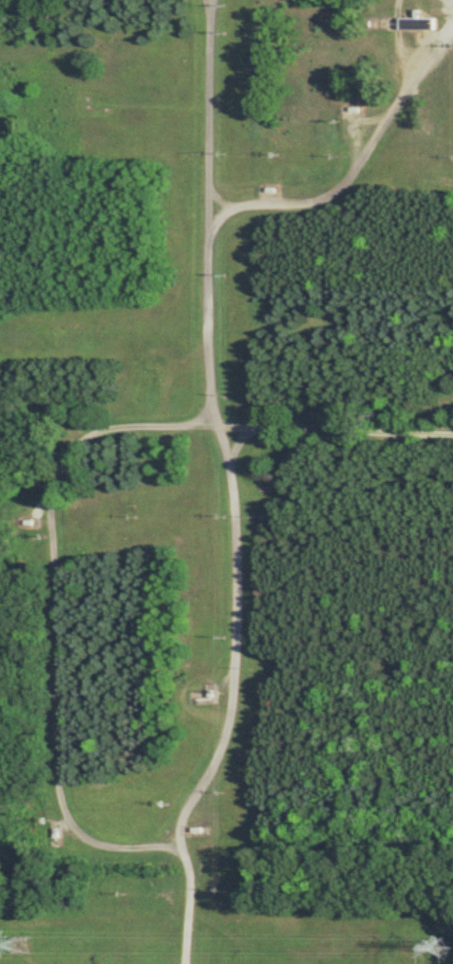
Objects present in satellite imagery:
road: (209, 119)
road: (210, 404)
road: (322, 431)
road: (56, 618)
road: (188, 930)
power tower: (19, 946)
power tower: (433, 946)

